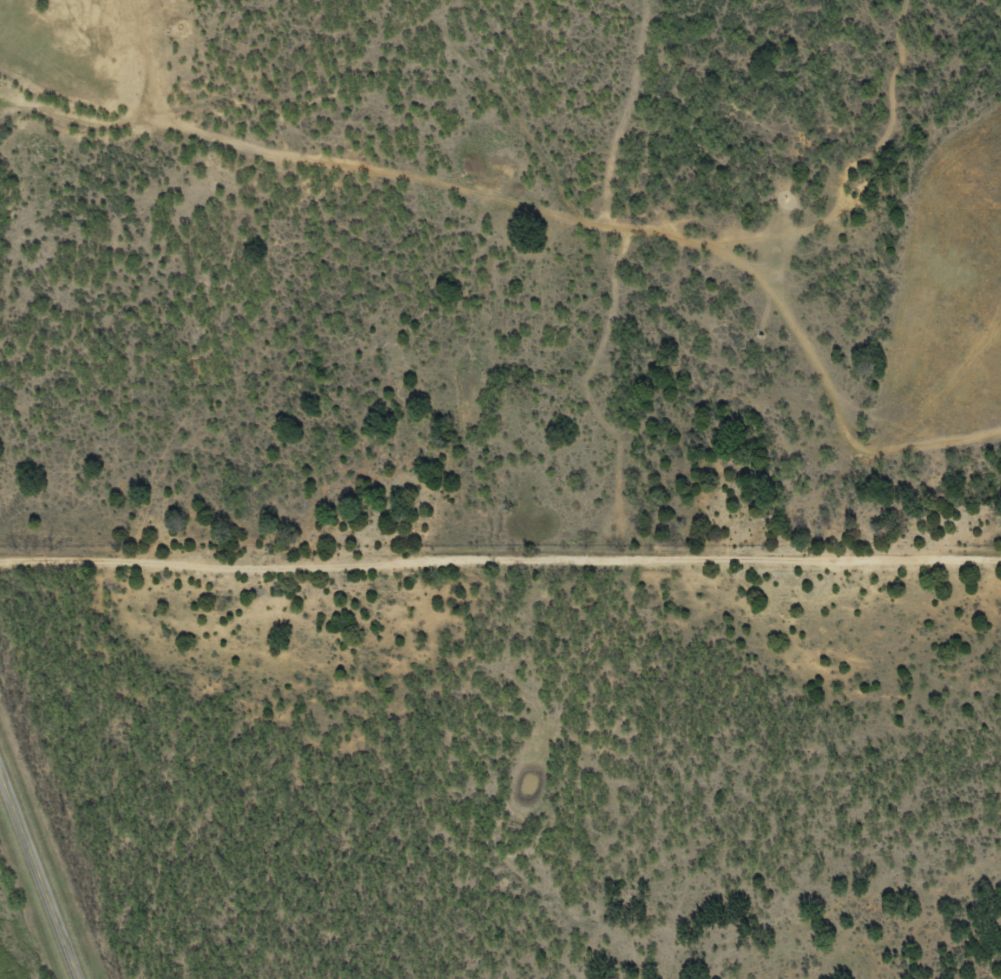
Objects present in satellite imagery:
road: (500, 582)
road: (39, 873)

